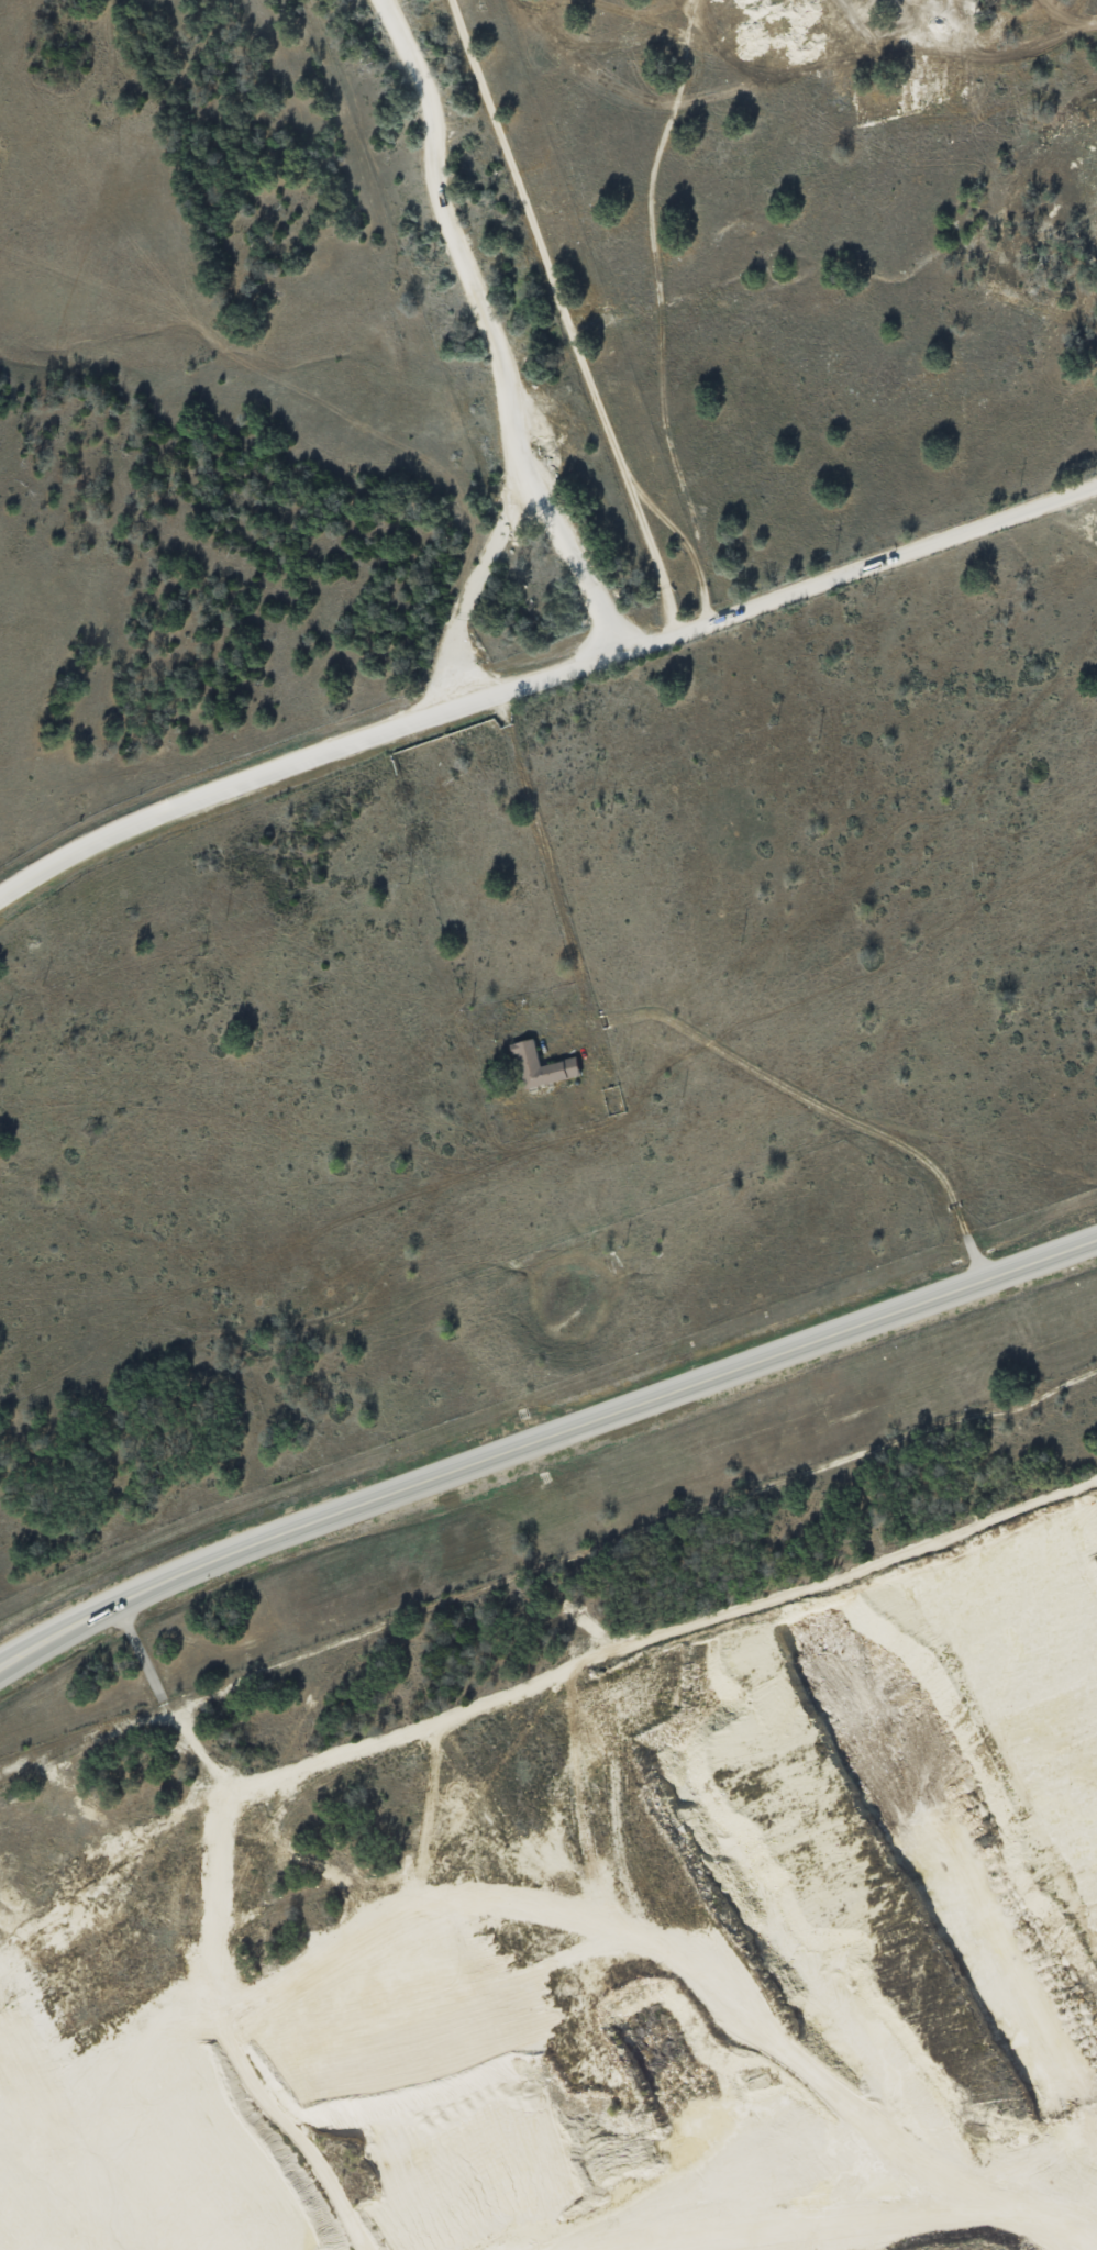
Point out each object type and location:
road: (458, 250)
road: (566, 314)
road: (508, 519)
road: (543, 678)
road: (546, 863)
building: (542, 1065)
road: (969, 1416)
road: (543, 1437)
road: (503, 1581)
road: (561, 1680)

